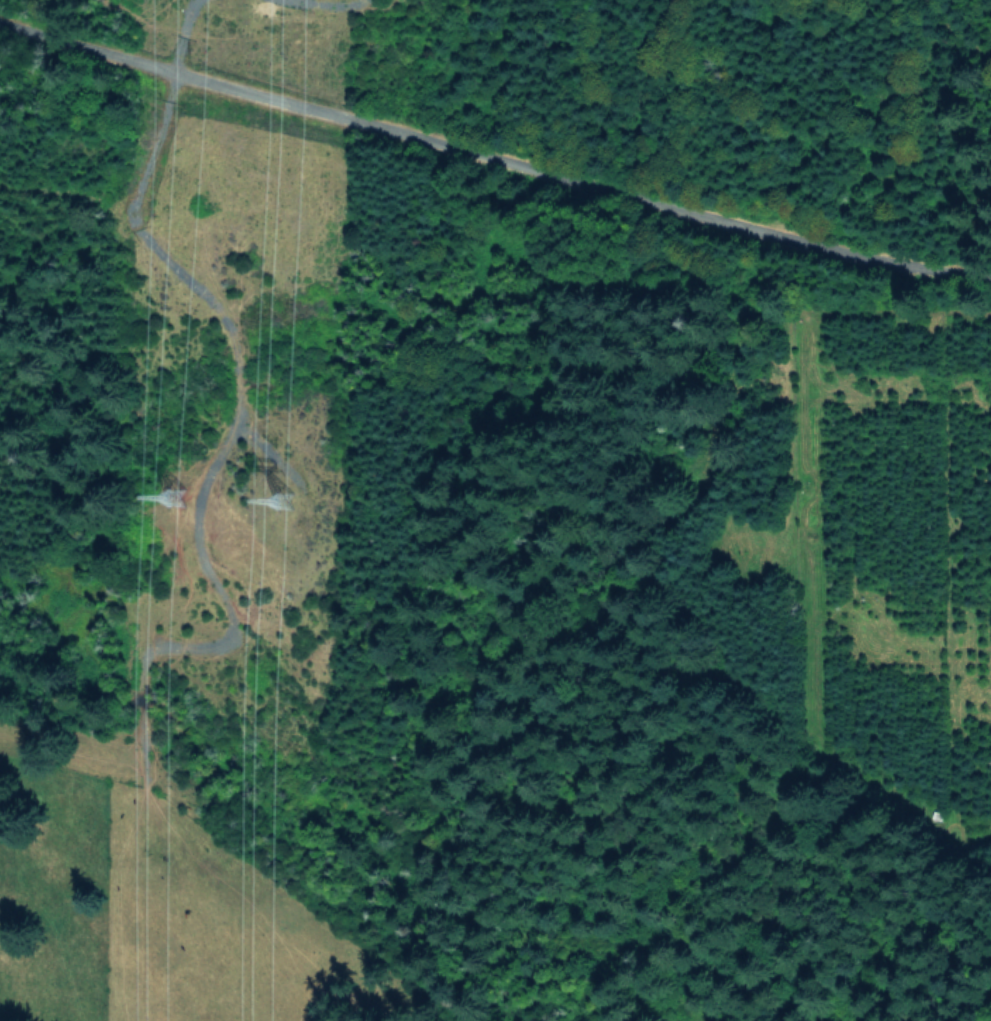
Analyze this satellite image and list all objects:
road: (494, 153)
power tower: (184, 500)
power tower: (290, 508)

